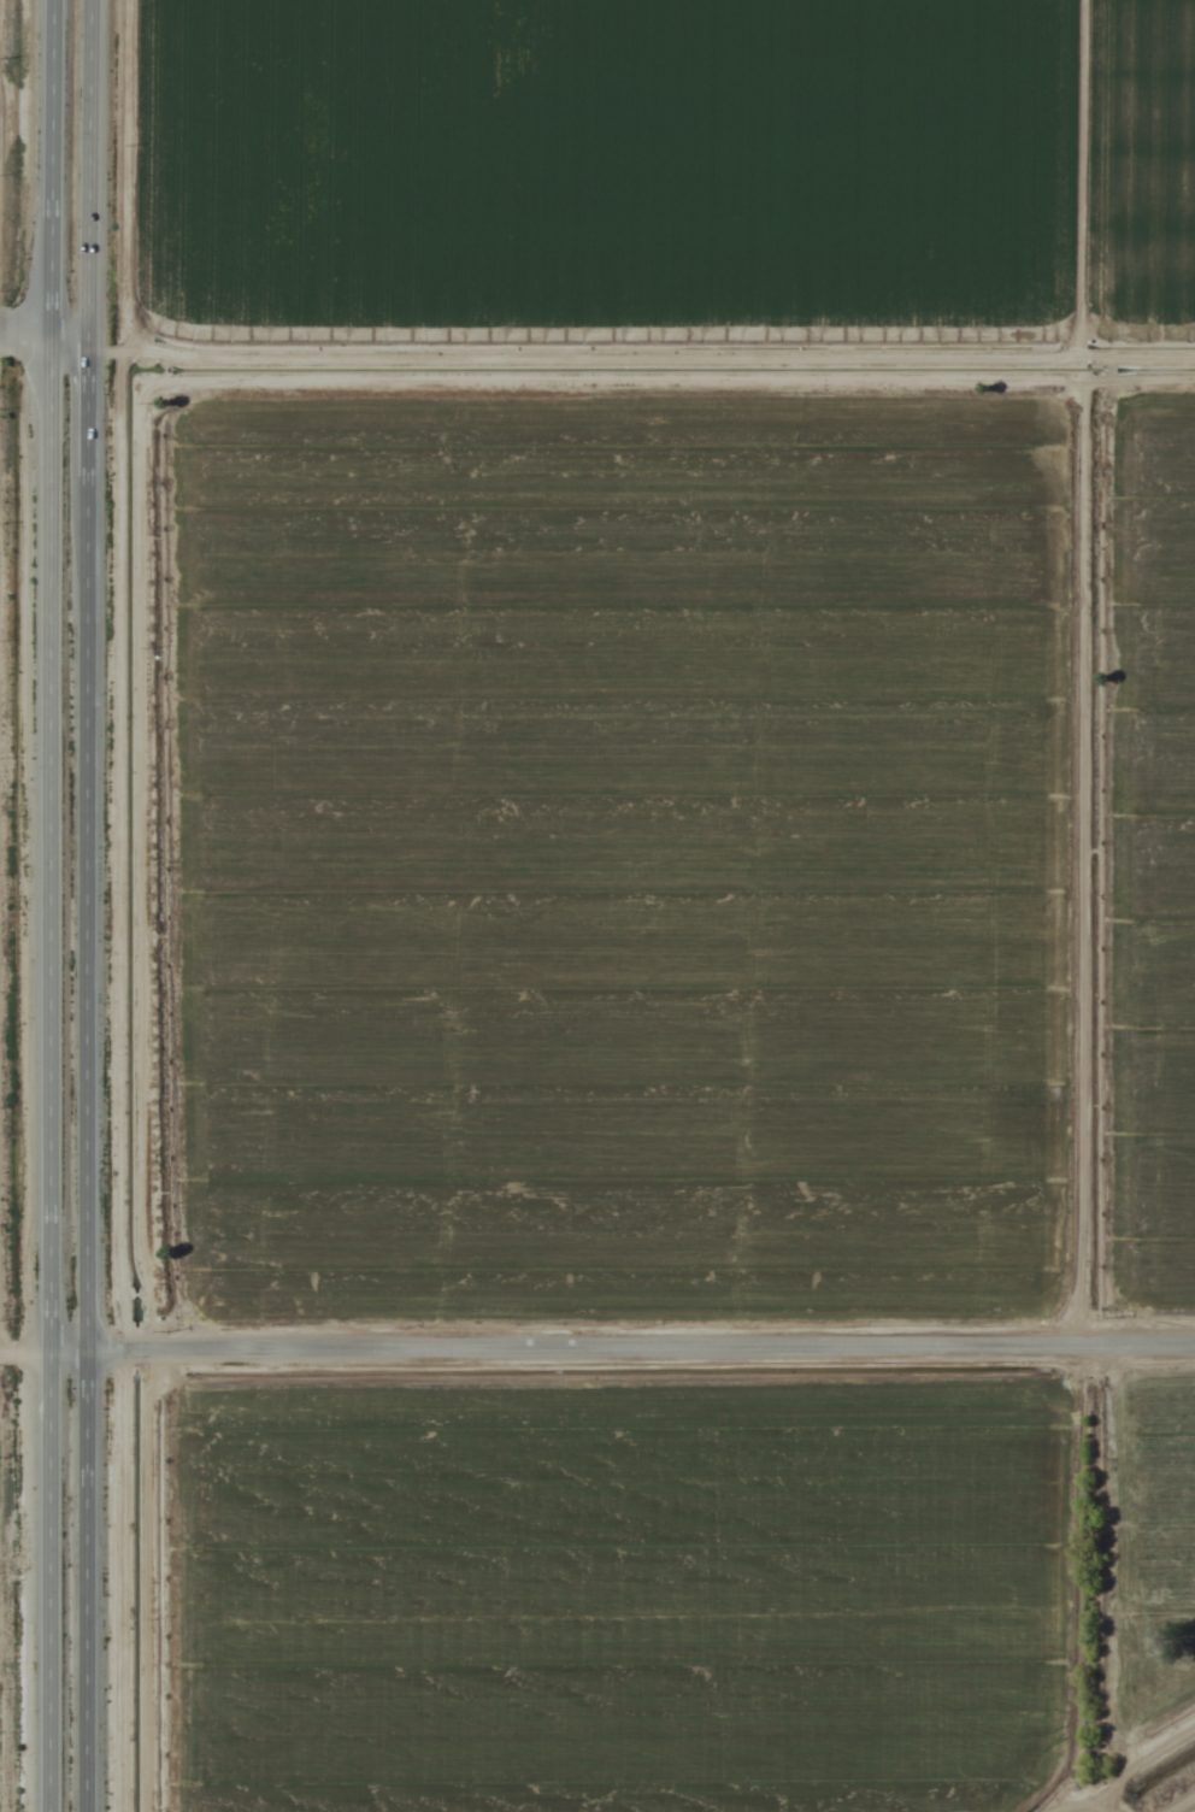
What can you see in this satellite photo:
road: (24, 353)
road: (67, 353)
road: (45, 905)
road: (82, 905)
road: (596, 1355)

